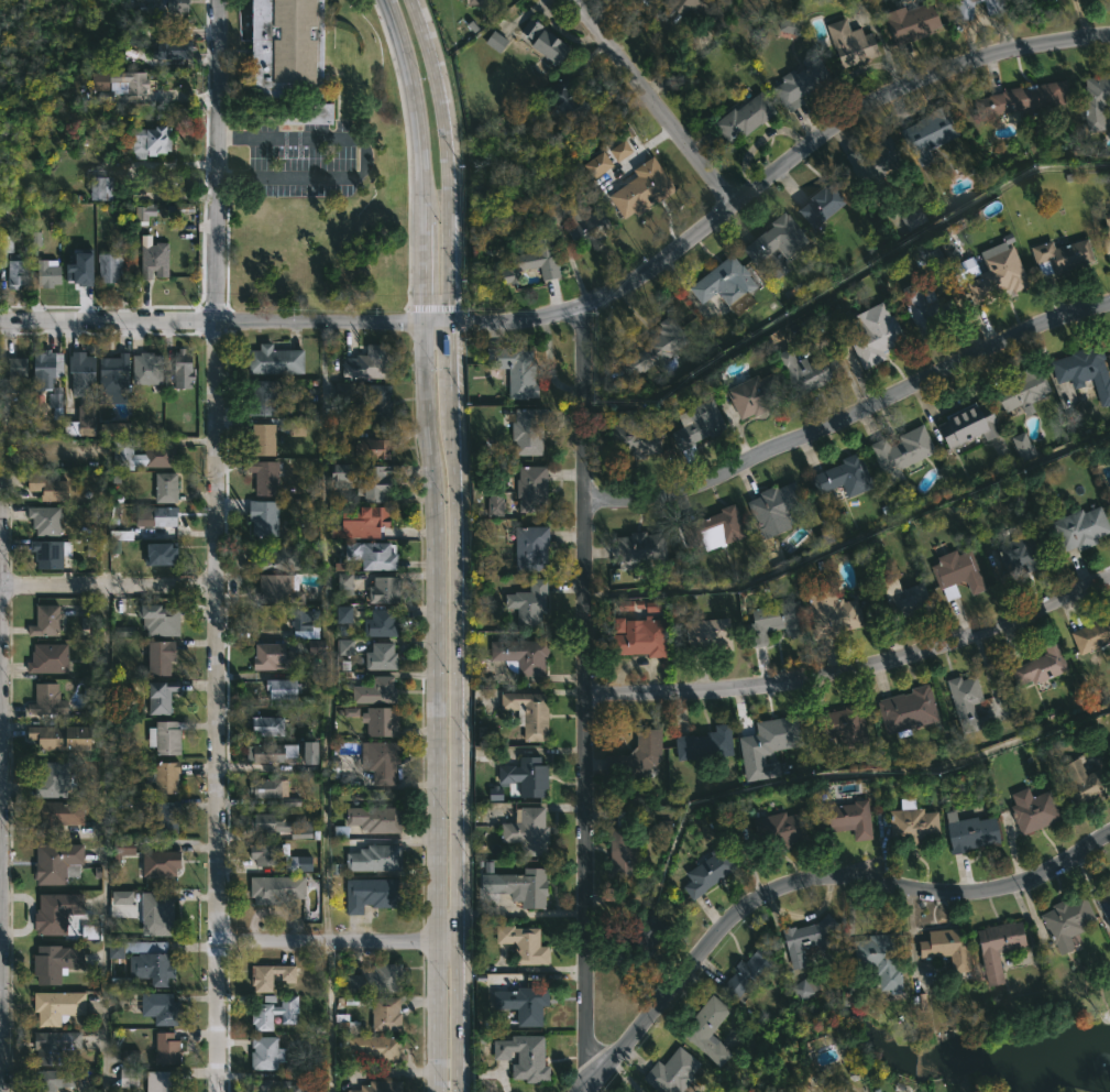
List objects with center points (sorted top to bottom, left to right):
building: (1051, 0)
building: (477, 2)
building: (180, 4)
building: (991, 6)
building: (960, 8)
building: (688, 11)
building: (906, 21)
building: (789, 24)
building: (531, 29)
building: (495, 41)
building: (849, 43)
building: (290, 47)
building: (552, 47)
building: (175, 50)
building: (796, 81)
building: (140, 85)
building: (568, 98)
building: (1095, 98)
building: (1021, 99)
road: (653, 100)
building: (310, 113)
building: (741, 116)
building: (925, 133)
building: (150, 141)
building: (619, 151)
road: (422, 157)
road: (449, 157)
road: (362, 159)
building: (873, 159)
building: (597, 164)
road: (772, 174)
building: (99, 183)
building: (645, 188)
building: (818, 205)
building: (144, 211)
building: (913, 218)
building: (587, 222)
building: (1107, 237)
building: (776, 238)
building: (6, 247)
building: (949, 250)
building: (1059, 255)
building: (926, 256)
building: (155, 259)
building: (539, 261)
building: (111, 267)
building: (80, 270)
building: (18, 272)
building: (50, 273)
building: (994, 276)
road: (844, 279)
building: (723, 282)
building: (925, 308)
road: (220, 317)
building: (873, 335)
building: (1109, 341)
building: (656, 347)
building: (1108, 349)
building: (276, 359)
building: (369, 362)
building: (147, 368)
building: (183, 368)
building: (45, 370)
building: (517, 370)
building: (804, 371)
building: (1081, 371)
building: (85, 373)
building: (116, 379)
building: (13, 380)
building: (1018, 391)
building: (754, 394)
building: (265, 396)
building: (55, 397)
building: (377, 402)
building: (87, 413)
road: (851, 415)
building: (965, 426)
building: (693, 427)
building: (296, 428)
building: (113, 429)
building: (530, 430)
building: (631, 434)
building: (264, 438)
building: (1022, 446)
building: (375, 448)
building: (898, 452)
building: (124, 454)
building: (162, 455)
building: (846, 474)
building: (267, 476)
building: (382, 478)
building: (48, 485)
building: (167, 485)
building: (535, 489)
building: (499, 504)
building: (777, 506)
building: (166, 515)
building: (265, 516)
building: (46, 518)
building: (364, 521)
building: (712, 528)
building: (1076, 528)
building: (120, 535)
road: (851, 537)
road: (216, 545)
building: (532, 547)
building: (52, 552)
building: (644, 552)
building: (164, 553)
building: (1014, 554)
building: (374, 555)
building: (283, 558)
building: (953, 572)
building: (345, 583)
road: (108, 586)
building: (276, 588)
building: (386, 589)
building: (899, 602)
building: (531, 603)
building: (828, 612)
building: (343, 614)
building: (155, 615)
building: (47, 620)
building: (774, 620)
building: (306, 621)
building: (383, 623)
road: (327, 629)
building: (636, 633)
building: (711, 633)
building: (1090, 634)
building: (316, 646)
building: (344, 646)
building: (524, 655)
building: (162, 656)
building: (278, 656)
building: (383, 656)
building: (50, 657)
building: (1038, 664)
road: (854, 670)
building: (285, 688)
building: (378, 690)
building: (163, 696)
road: (812, 696)
road: (583, 698)
building: (47, 699)
building: (963, 701)
road: (450, 705)
building: (906, 710)
building: (531, 711)
building: (383, 721)
building: (270, 725)
building: (839, 728)
building: (779, 734)
building: (65, 736)
building: (167, 736)
building: (707, 743)
building: (271, 752)
building: (309, 753)
building: (634, 755)
building: (383, 761)
road: (821, 772)
building: (528, 775)
building: (168, 776)
building: (55, 779)
building: (1081, 784)
building: (271, 787)
building: (495, 793)
building: (1029, 810)
building: (168, 816)
building: (58, 817)
building: (378, 818)
building: (840, 818)
building: (266, 821)
building: (910, 825)
building: (300, 830)
building: (529, 830)
building: (778, 831)
building: (969, 833)
road: (101, 838)
building: (123, 848)
building: (265, 853)
building: (625, 856)
building: (377, 858)
building: (58, 863)
building: (162, 863)
building: (297, 863)
building: (707, 871)
road: (810, 883)
building: (527, 886)
building: (278, 888)
building: (373, 894)
building: (121, 897)
building: (1102, 903)
building: (160, 914)
building: (64, 916)
building: (1063, 918)
road: (0, 931)
building: (646, 931)
road: (333, 939)
building: (806, 942)
building: (526, 943)
building: (136, 948)
building: (942, 948)
building: (993, 948)
building: (876, 960)
building: (56, 962)
building: (149, 970)
building: (272, 975)
building: (746, 975)
building: (377, 979)
building: (804, 987)
building: (524, 1004)
building: (161, 1006)
building: (61, 1008)
building: (382, 1012)
building: (276, 1013)
road: (328, 1016)
building: (705, 1027)
building: (57, 1046)
building: (376, 1047)
building: (168, 1049)
building: (271, 1053)
building: (132, 1057)
building: (526, 1057)
building: (674, 1072)
building: (128, 1078)
building: (54, 1080)
building: (165, 1081)
building: (275, 1085)
building: (383, 1086)

